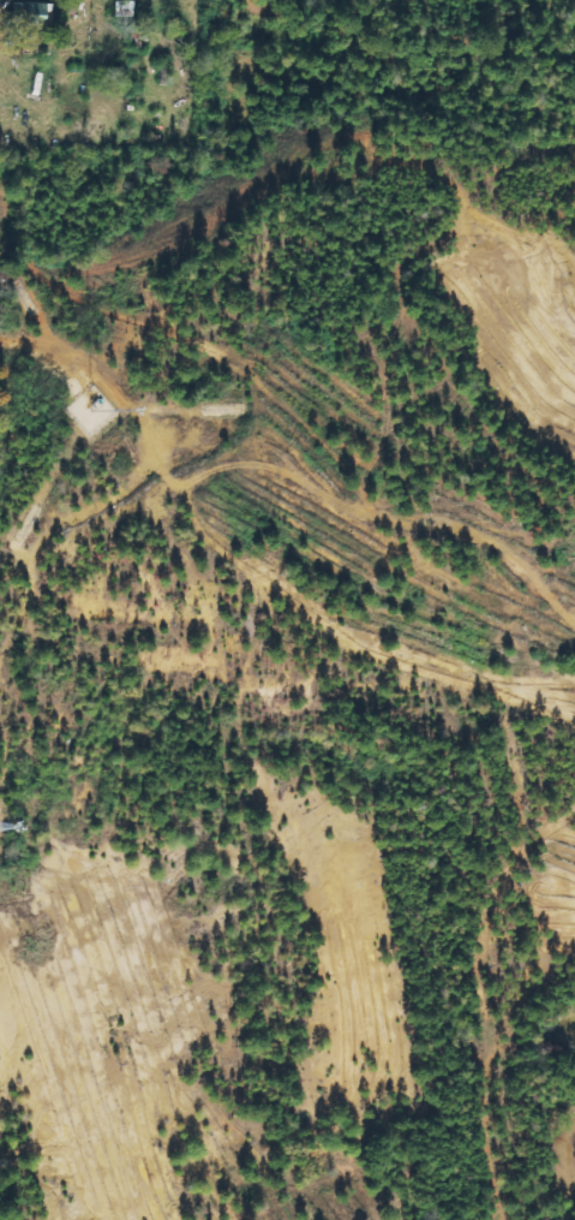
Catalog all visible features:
building: (73, 7)
building: (34, 13)

